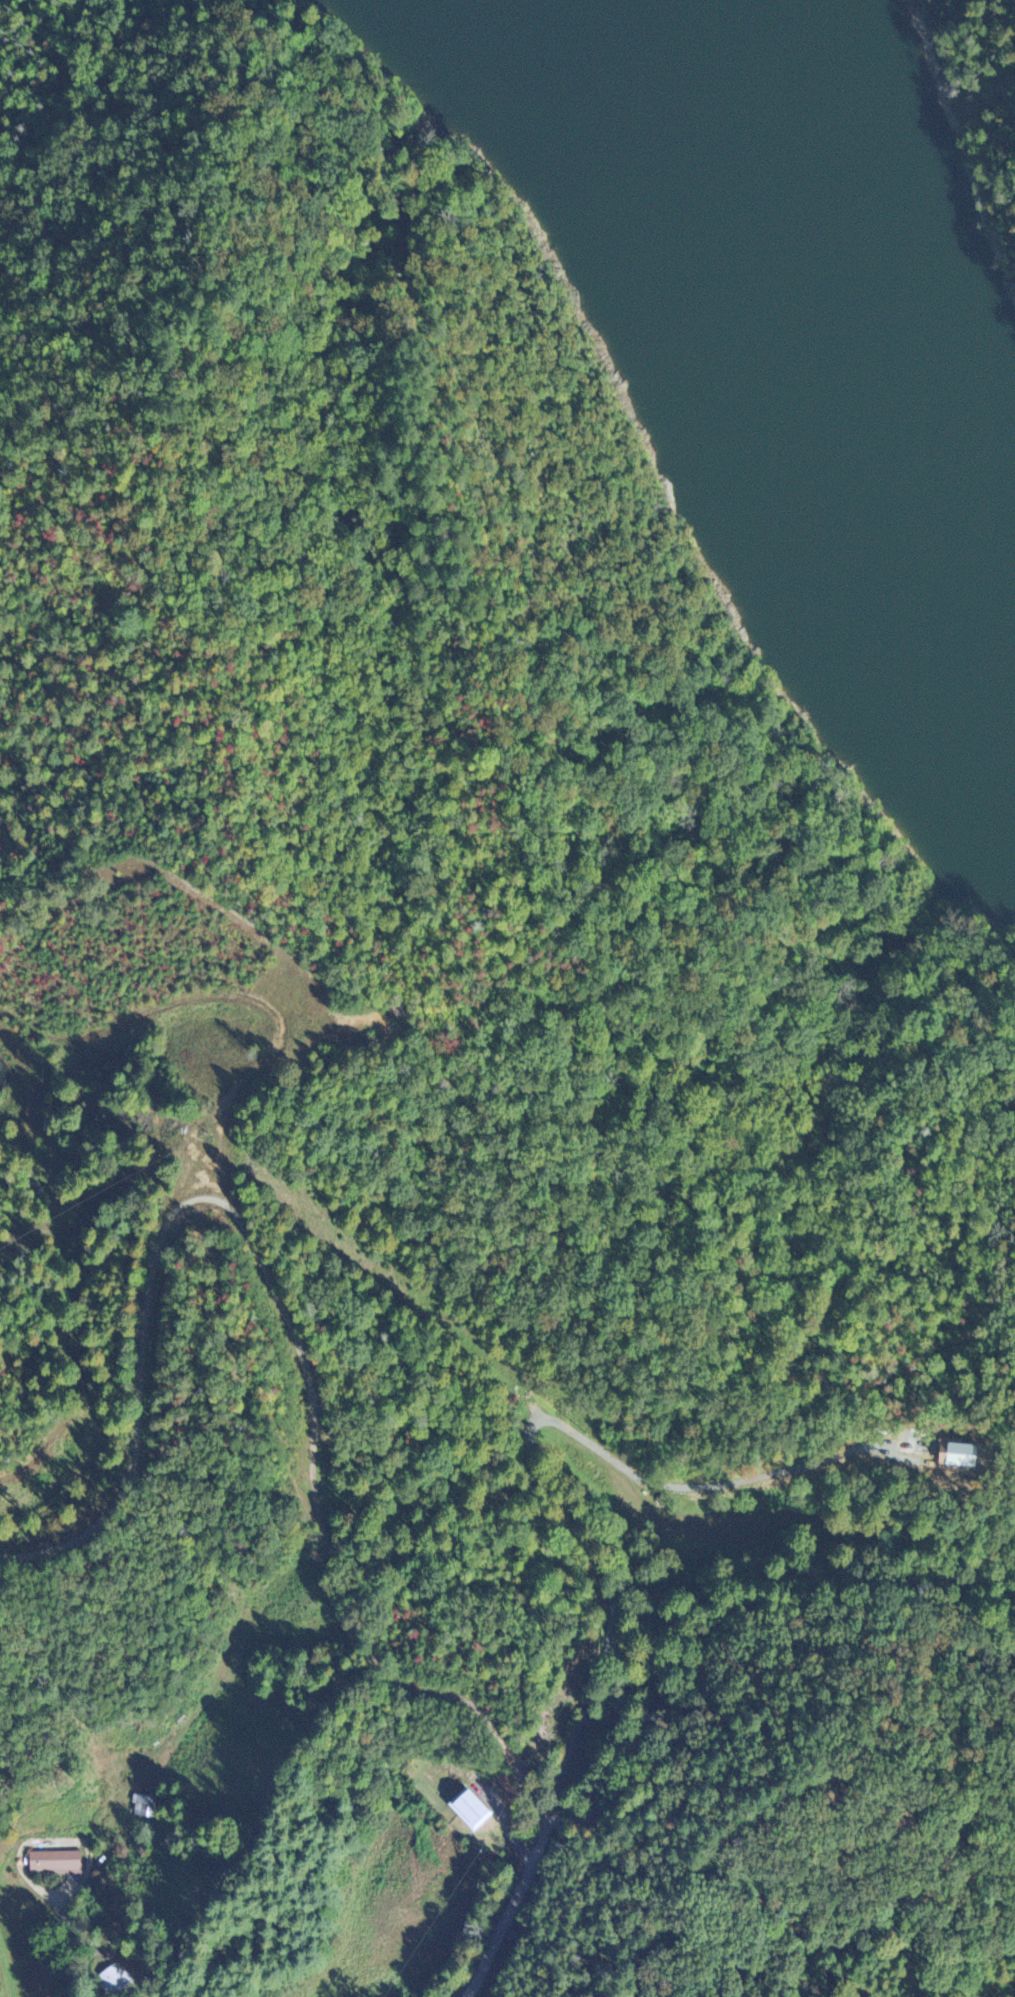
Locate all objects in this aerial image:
river: (778, 303)
road: (126, 1378)
road: (321, 1565)
road: (567, 1788)
building: (466, 1813)
building: (52, 1865)
road: (111, 1980)

